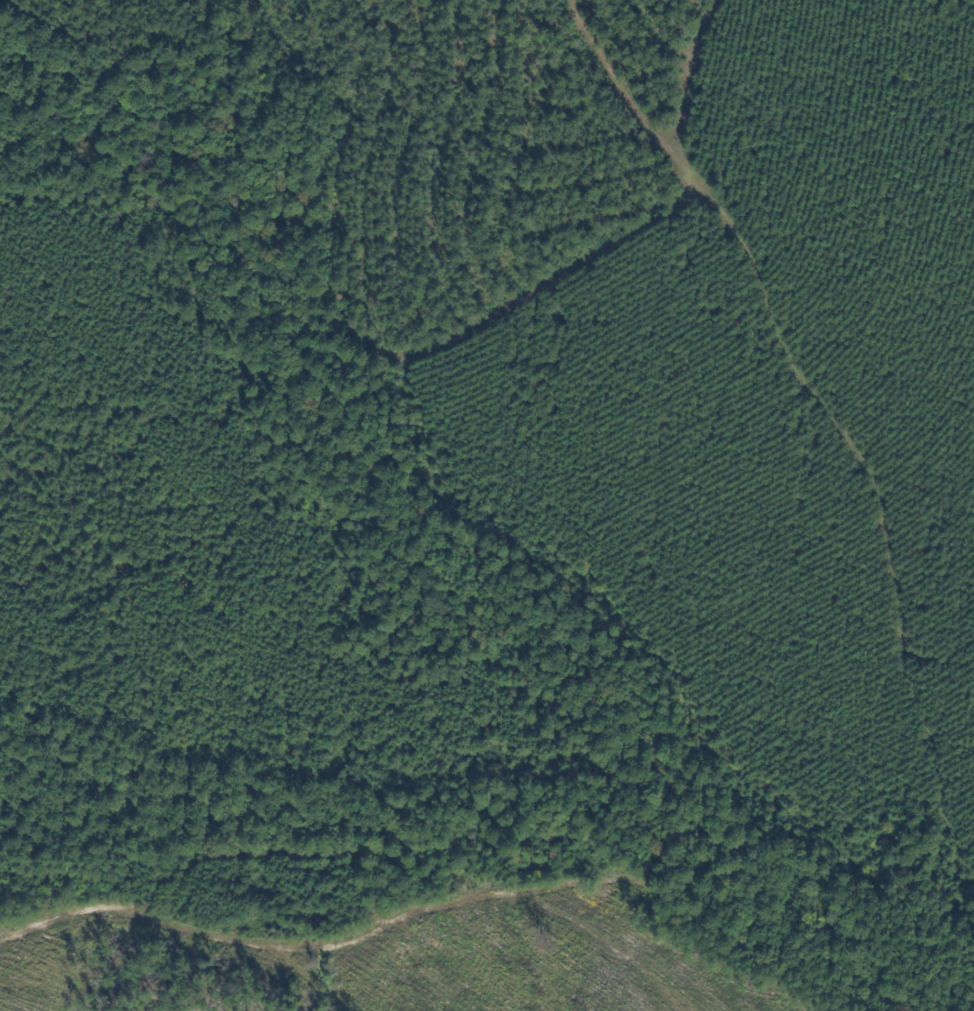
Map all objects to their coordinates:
road: (821, 766)

